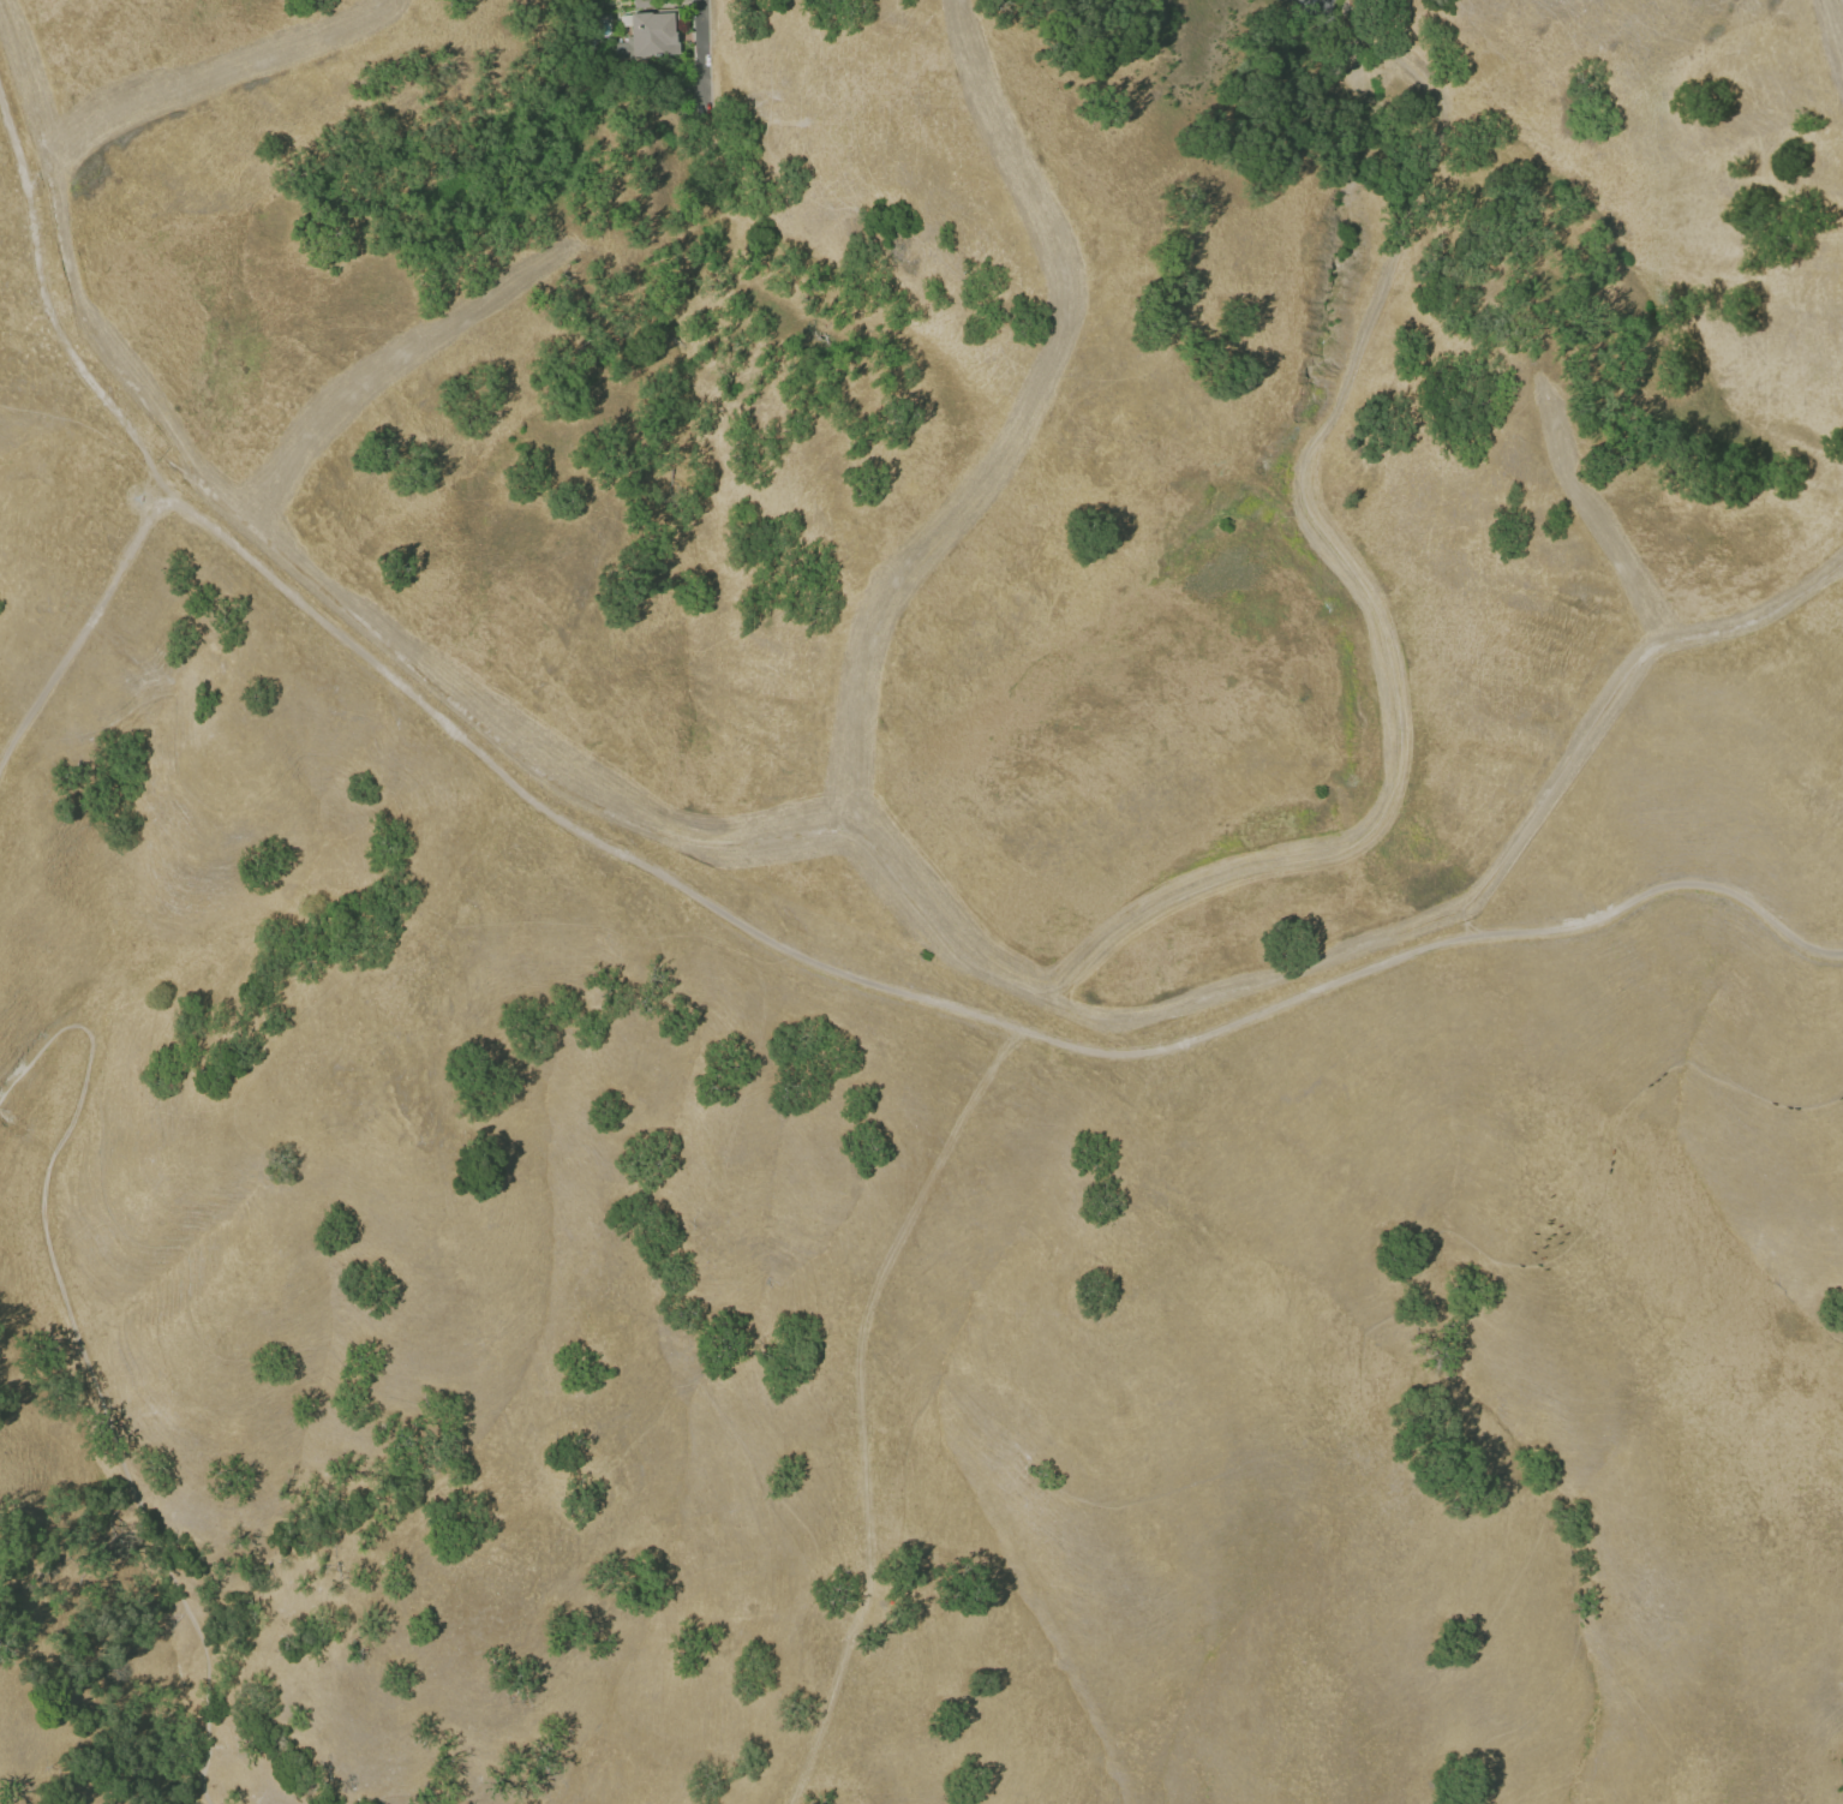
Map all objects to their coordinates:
road: (1318, 4)
building: (650, 35)
road: (700, 53)
road: (221, 65)
road: (383, 364)
road: (86, 633)
road: (750, 933)
road: (950, 934)
road: (83, 1361)

